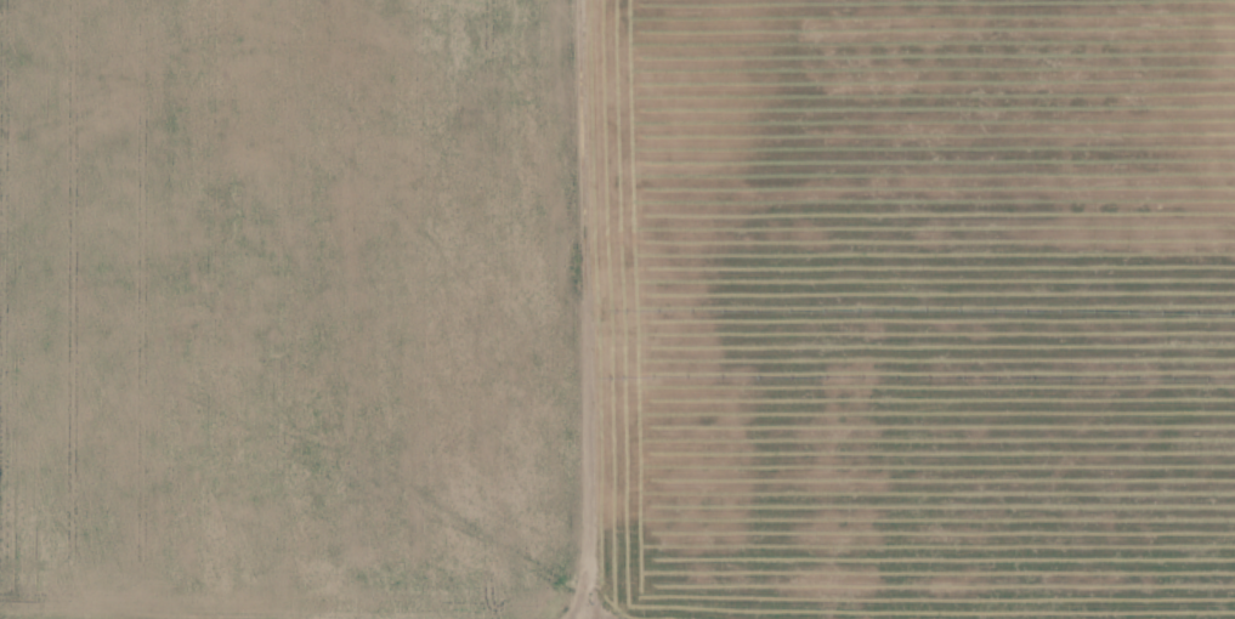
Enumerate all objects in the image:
crop: (617, 309)

